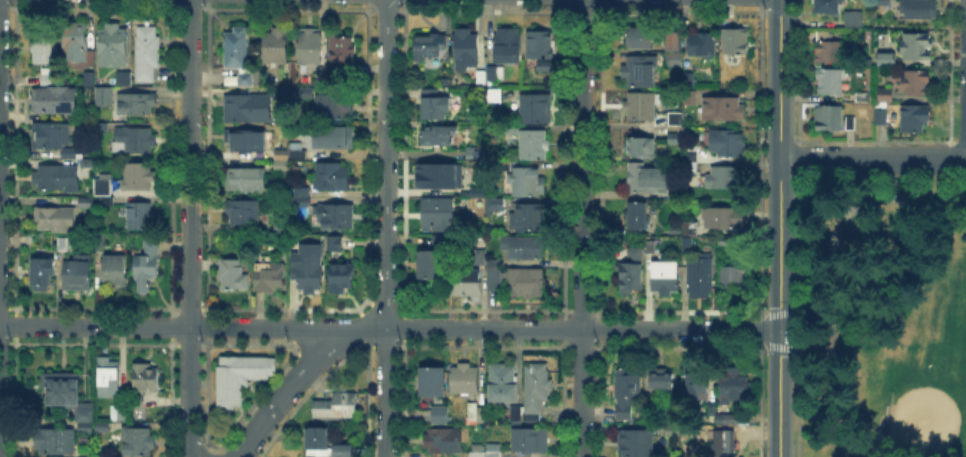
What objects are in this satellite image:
building: (883, 2)
building: (827, 7)
building: (918, 10)
building: (851, 16)
building: (640, 37)
building: (735, 42)
building: (76, 44)
building: (429, 44)
building: (702, 45)
building: (112, 46)
building: (277, 46)
building: (507, 46)
building: (237, 48)
building: (917, 48)
building: (309, 49)
building: (466, 49)
building: (541, 51)
building: (674, 51)
building: (828, 51)
building: (44, 52)
building: (147, 54)
building: (343, 54)
building: (883, 57)
building: (640, 72)
building: (495, 73)
building: (482, 74)
building: (51, 77)
building: (90, 77)
building: (124, 80)
building: (252, 80)
building: (689, 80)
building: (829, 83)
building: (912, 83)
building: (279, 93)
building: (884, 95)
building: (103, 97)
building: (494, 97)
building: (862, 97)
building: (54, 103)
building: (136, 104)
building: (435, 106)
building: (642, 106)
building: (247, 109)
building: (335, 110)
building: (536, 110)
building: (724, 110)
building: (881, 116)
building: (915, 119)
building: (674, 120)
building: (829, 120)
building: (851, 125)
building: (103, 126)
building: (438, 136)
building: (334, 138)
building: (54, 139)
building: (247, 140)
building: (674, 140)
building: (134, 141)
building: (731, 145)
building: (531, 146)
building: (639, 148)
building: (298, 150)
building: (281, 152)
road: (873, 160)
road: (386, 164)
building: (693, 164)
building: (88, 165)
road: (780, 165)
building: (282, 166)
building: (138, 177)
building: (332, 178)
building: (443, 178)
building: (725, 178)
building: (57, 179)
building: (648, 180)
building: (244, 181)
building: (525, 182)
building: (472, 188)
building: (103, 191)
building: (301, 198)
building: (87, 203)
building: (500, 206)
building: (241, 212)
building: (437, 214)
building: (140, 216)
building: (335, 216)
building: (638, 216)
building: (526, 217)
building: (723, 219)
building: (55, 220)
building: (687, 226)
road: (189, 228)
road: (581, 228)
building: (440, 241)
building: (99, 242)
building: (727, 242)
building: (294, 244)
building: (336, 244)
building: (686, 244)
building: (64, 245)
building: (525, 247)
building: (650, 247)
building: (478, 258)
building: (147, 265)
building: (428, 265)
building: (631, 270)
road: (820, 270)
building: (496, 271)
building: (115, 272)
building: (311, 273)
building: (700, 274)
building: (78, 275)
building: (42, 276)
building: (232, 276)
building: (270, 278)
building: (342, 278)
building: (667, 280)
building: (733, 281)
building: (527, 283)
building: (467, 284)
road: (807, 307)
road: (789, 312)
park: (882, 320)
road: (166, 326)
road: (359, 328)
road: (583, 328)
road: (786, 348)
road: (811, 351)
park: (930, 358)
building: (242, 376)
building: (109, 377)
building: (145, 378)
building: (464, 380)
building: (433, 382)
building: (662, 383)
building: (503, 384)
building: (696, 385)
building: (734, 385)
building: (537, 387)
road: (283, 392)
road: (385, 392)
road: (779, 393)
building: (66, 395)
building: (626, 396)
building: (336, 407)
building: (711, 410)
building: (118, 414)
building: (438, 414)
building: (475, 414)
building: (516, 415)
building: (728, 420)
building: (103, 428)
building: (84, 429)
building: (673, 435)
building: (530, 441)
building: (54, 442)
building: (318, 442)
building: (443, 442)
building: (137, 443)
building: (636, 444)
building: (724, 444)
building: (343, 451)
building: (477, 451)
building: (494, 452)
building: (100, 456)

